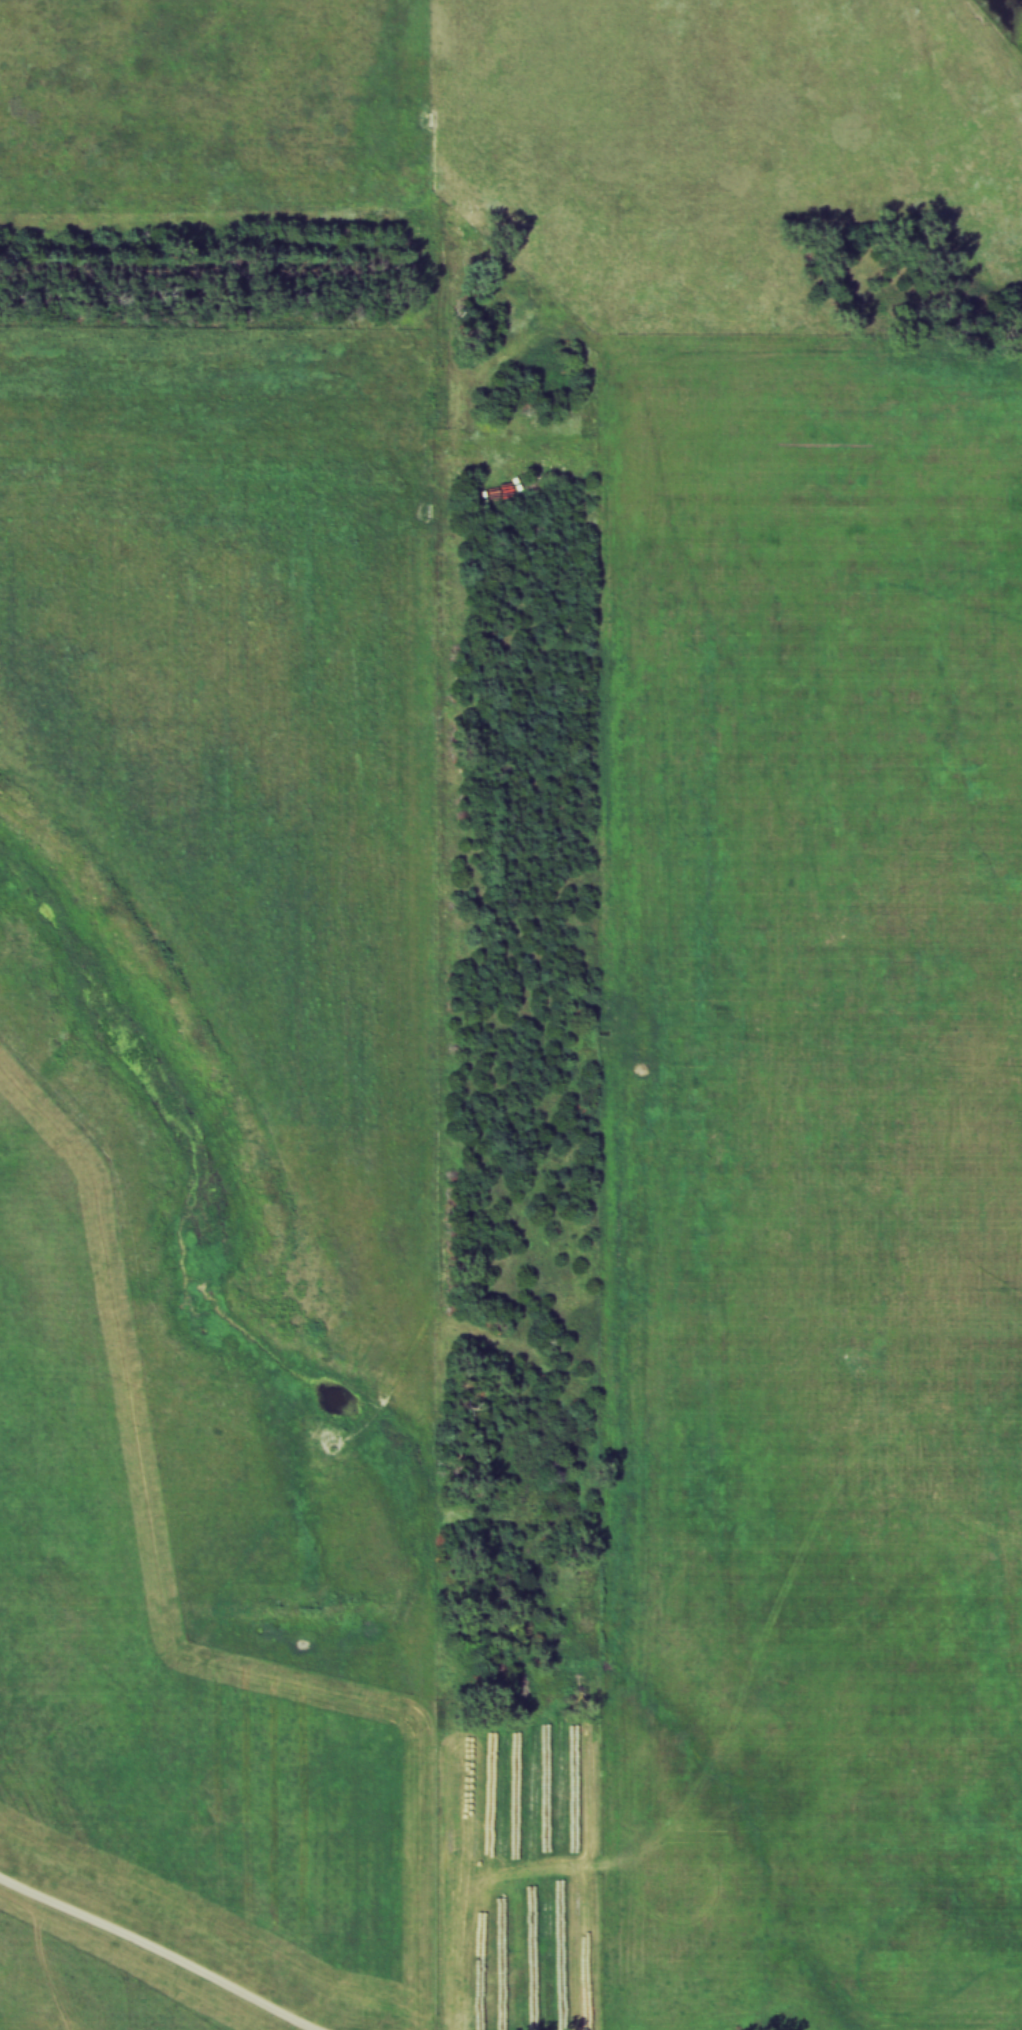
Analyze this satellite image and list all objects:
road: (145, 1958)

